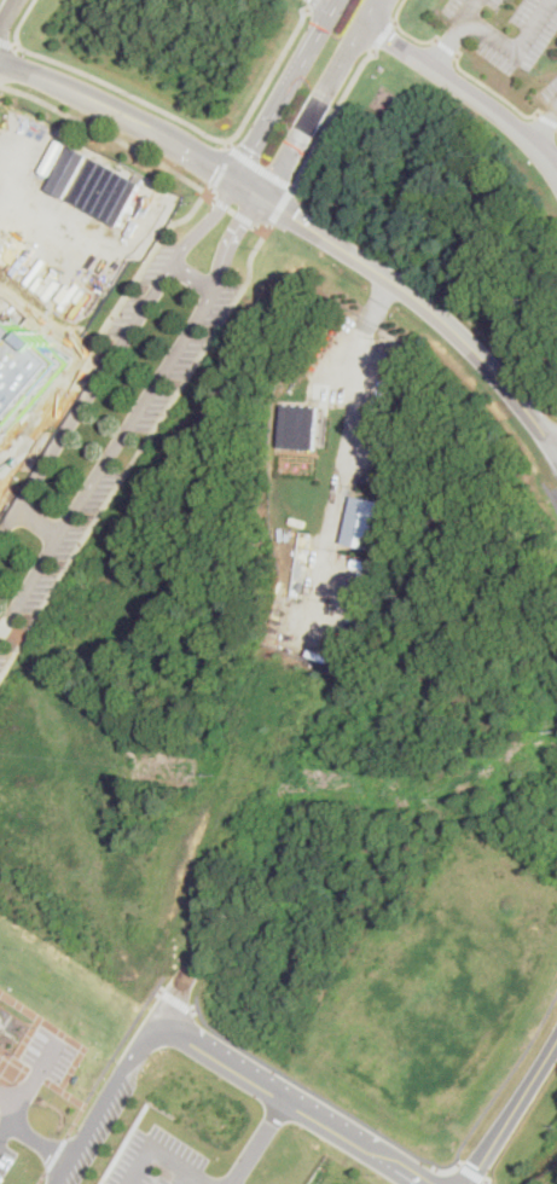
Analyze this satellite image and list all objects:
road: (333, 1)
road: (313, 4)
road: (470, 10)
road: (307, 11)
road: (370, 12)
road: (6, 13)
parking lot: (506, 29)
road: (404, 30)
road: (383, 34)
road: (314, 41)
road: (6, 42)
road: (16, 43)
road: (448, 43)
road: (447, 48)
road: (517, 50)
road: (1, 85)
road: (57, 85)
road: (1, 87)
road: (465, 91)
road: (494, 92)
parking lot: (550, 95)
road: (313, 111)
road: (172, 115)
road: (330, 118)
road: (547, 120)
road: (544, 123)
road: (263, 132)
road: (112, 138)
road: (230, 143)
road: (188, 152)
road: (224, 167)
road: (261, 167)
building: (95, 184)
road: (295, 186)
road: (222, 203)
road: (282, 204)
road: (233, 209)
road: (245, 217)
road: (260, 228)
road: (193, 279)
road: (425, 304)
road: (100, 333)
road: (115, 356)
parking lot: (86, 378)
road: (137, 418)
building: (301, 425)
parking lot: (130, 451)
road: (141, 452)
road: (354, 454)
road: (550, 493)
road: (555, 493)
building: (365, 521)
road: (40, 523)
road: (5, 629)
road: (18, 637)
parking lot: (4, 660)
road: (162, 989)
road: (179, 1000)
road: (197, 1009)
building: (12, 1032)
road: (64, 1034)
road: (123, 1041)
road: (21, 1049)
parking lot: (50, 1056)
road: (29, 1086)
road: (106, 1102)
road: (296, 1102)
road: (80, 1104)
road: (515, 1112)
parking lot: (104, 1127)
road: (261, 1141)
road: (36, 1144)
road: (401, 1145)
road: (54, 1154)
parking lot: (159, 1160)
road: (137, 1163)
road: (182, 1163)
road: (472, 1170)
road: (181, 1176)
road: (40, 1177)
road: (491, 1179)

